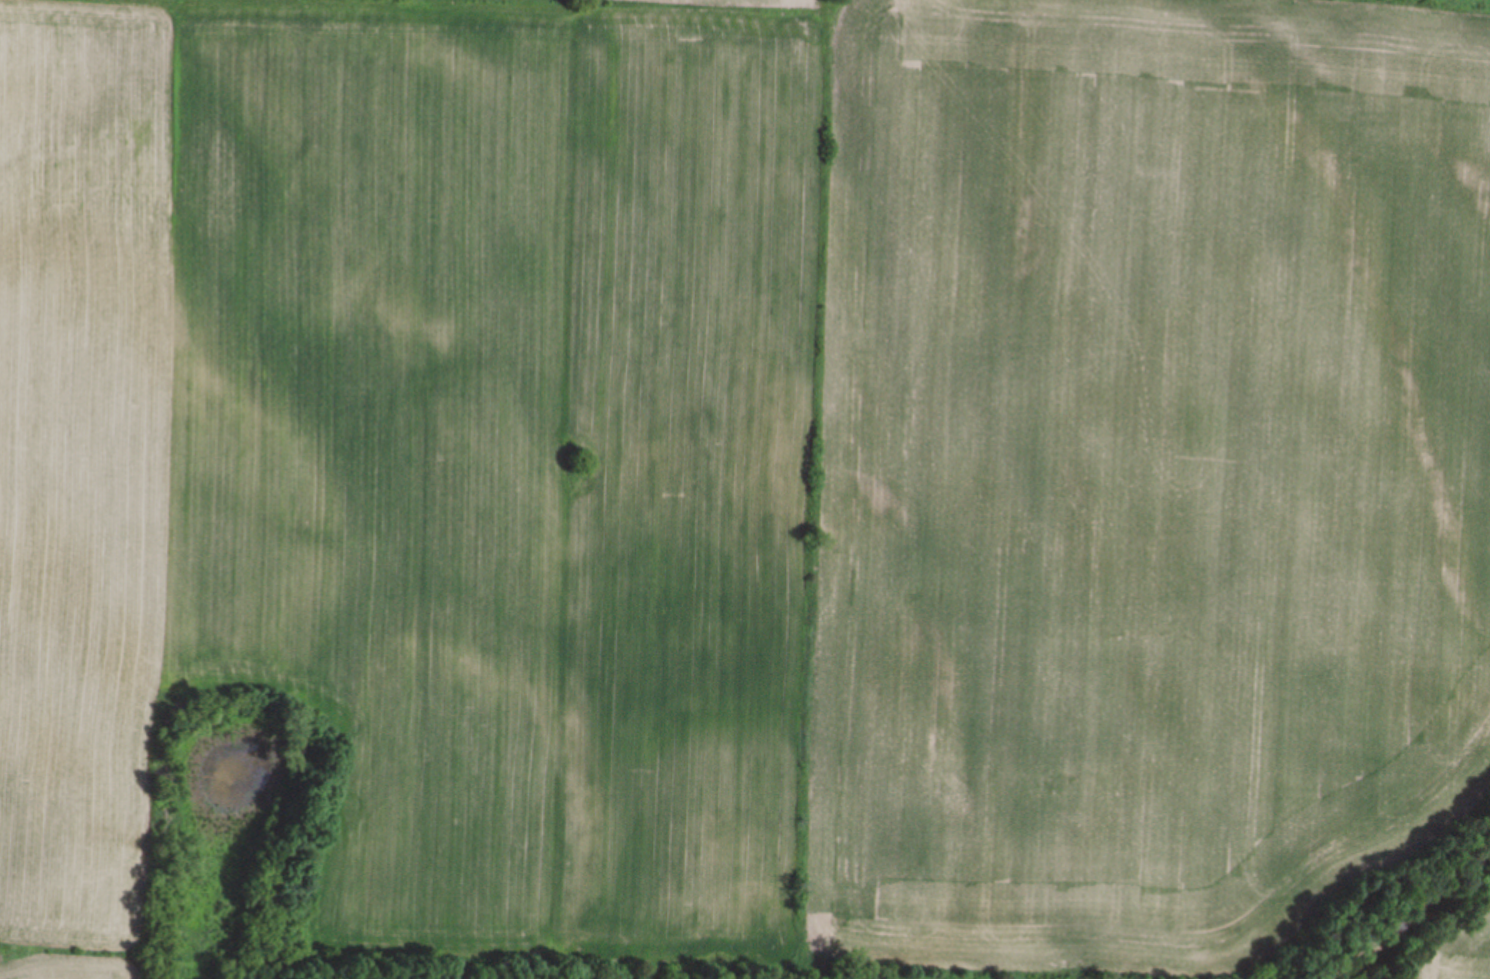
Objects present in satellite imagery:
road: (1422, 921)

